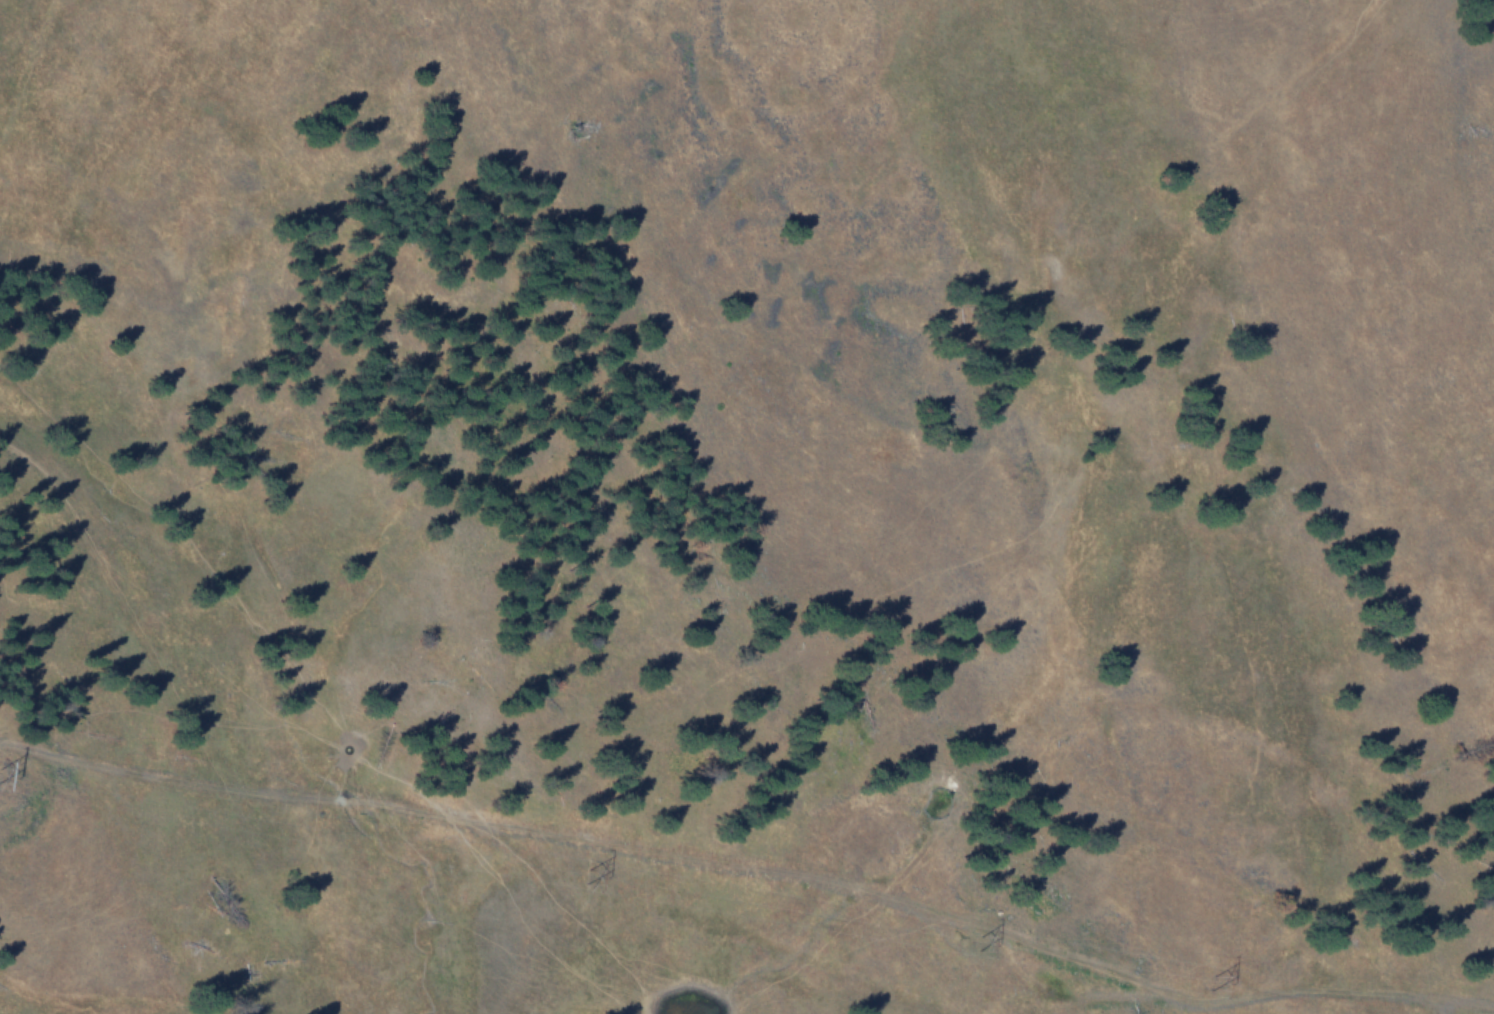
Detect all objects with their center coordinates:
power tower: (579, 875)
power tower: (991, 938)
power tower: (1221, 978)

